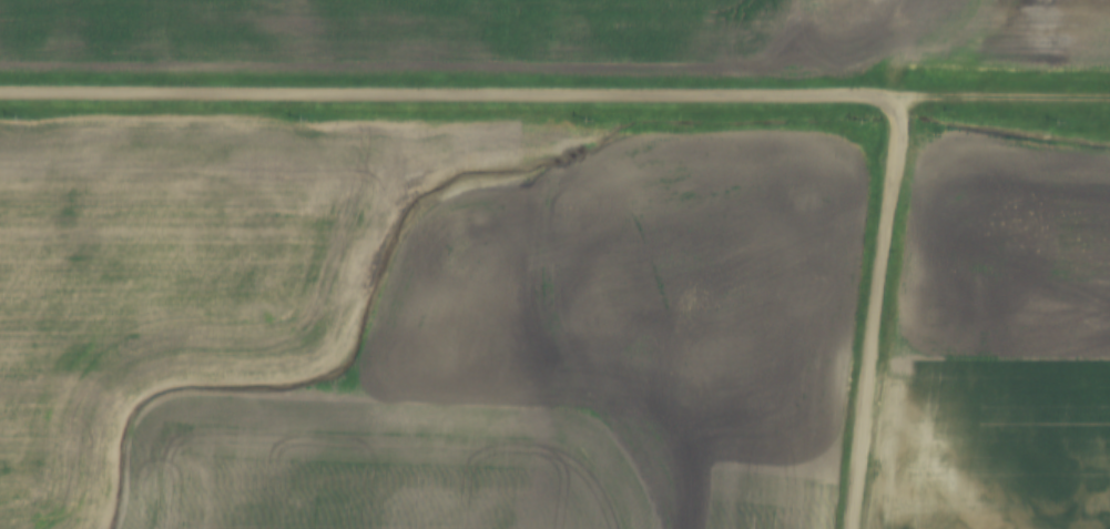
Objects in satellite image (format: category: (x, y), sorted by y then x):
road: (454, 99)
road: (1009, 99)
road: (884, 313)

